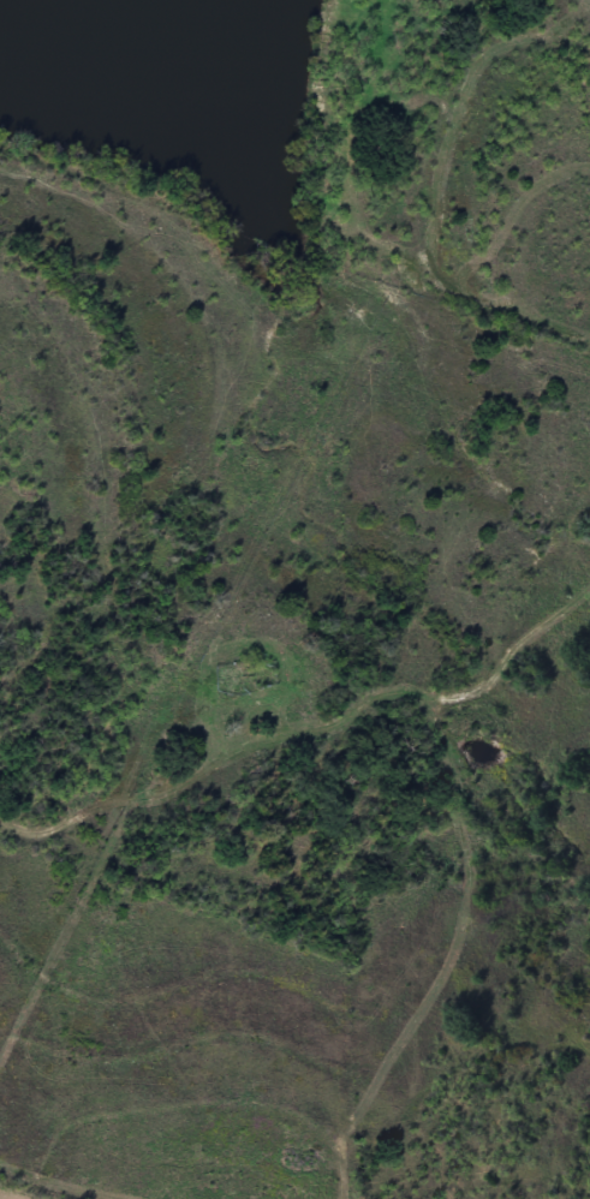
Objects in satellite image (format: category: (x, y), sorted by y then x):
road: (317, 732)

